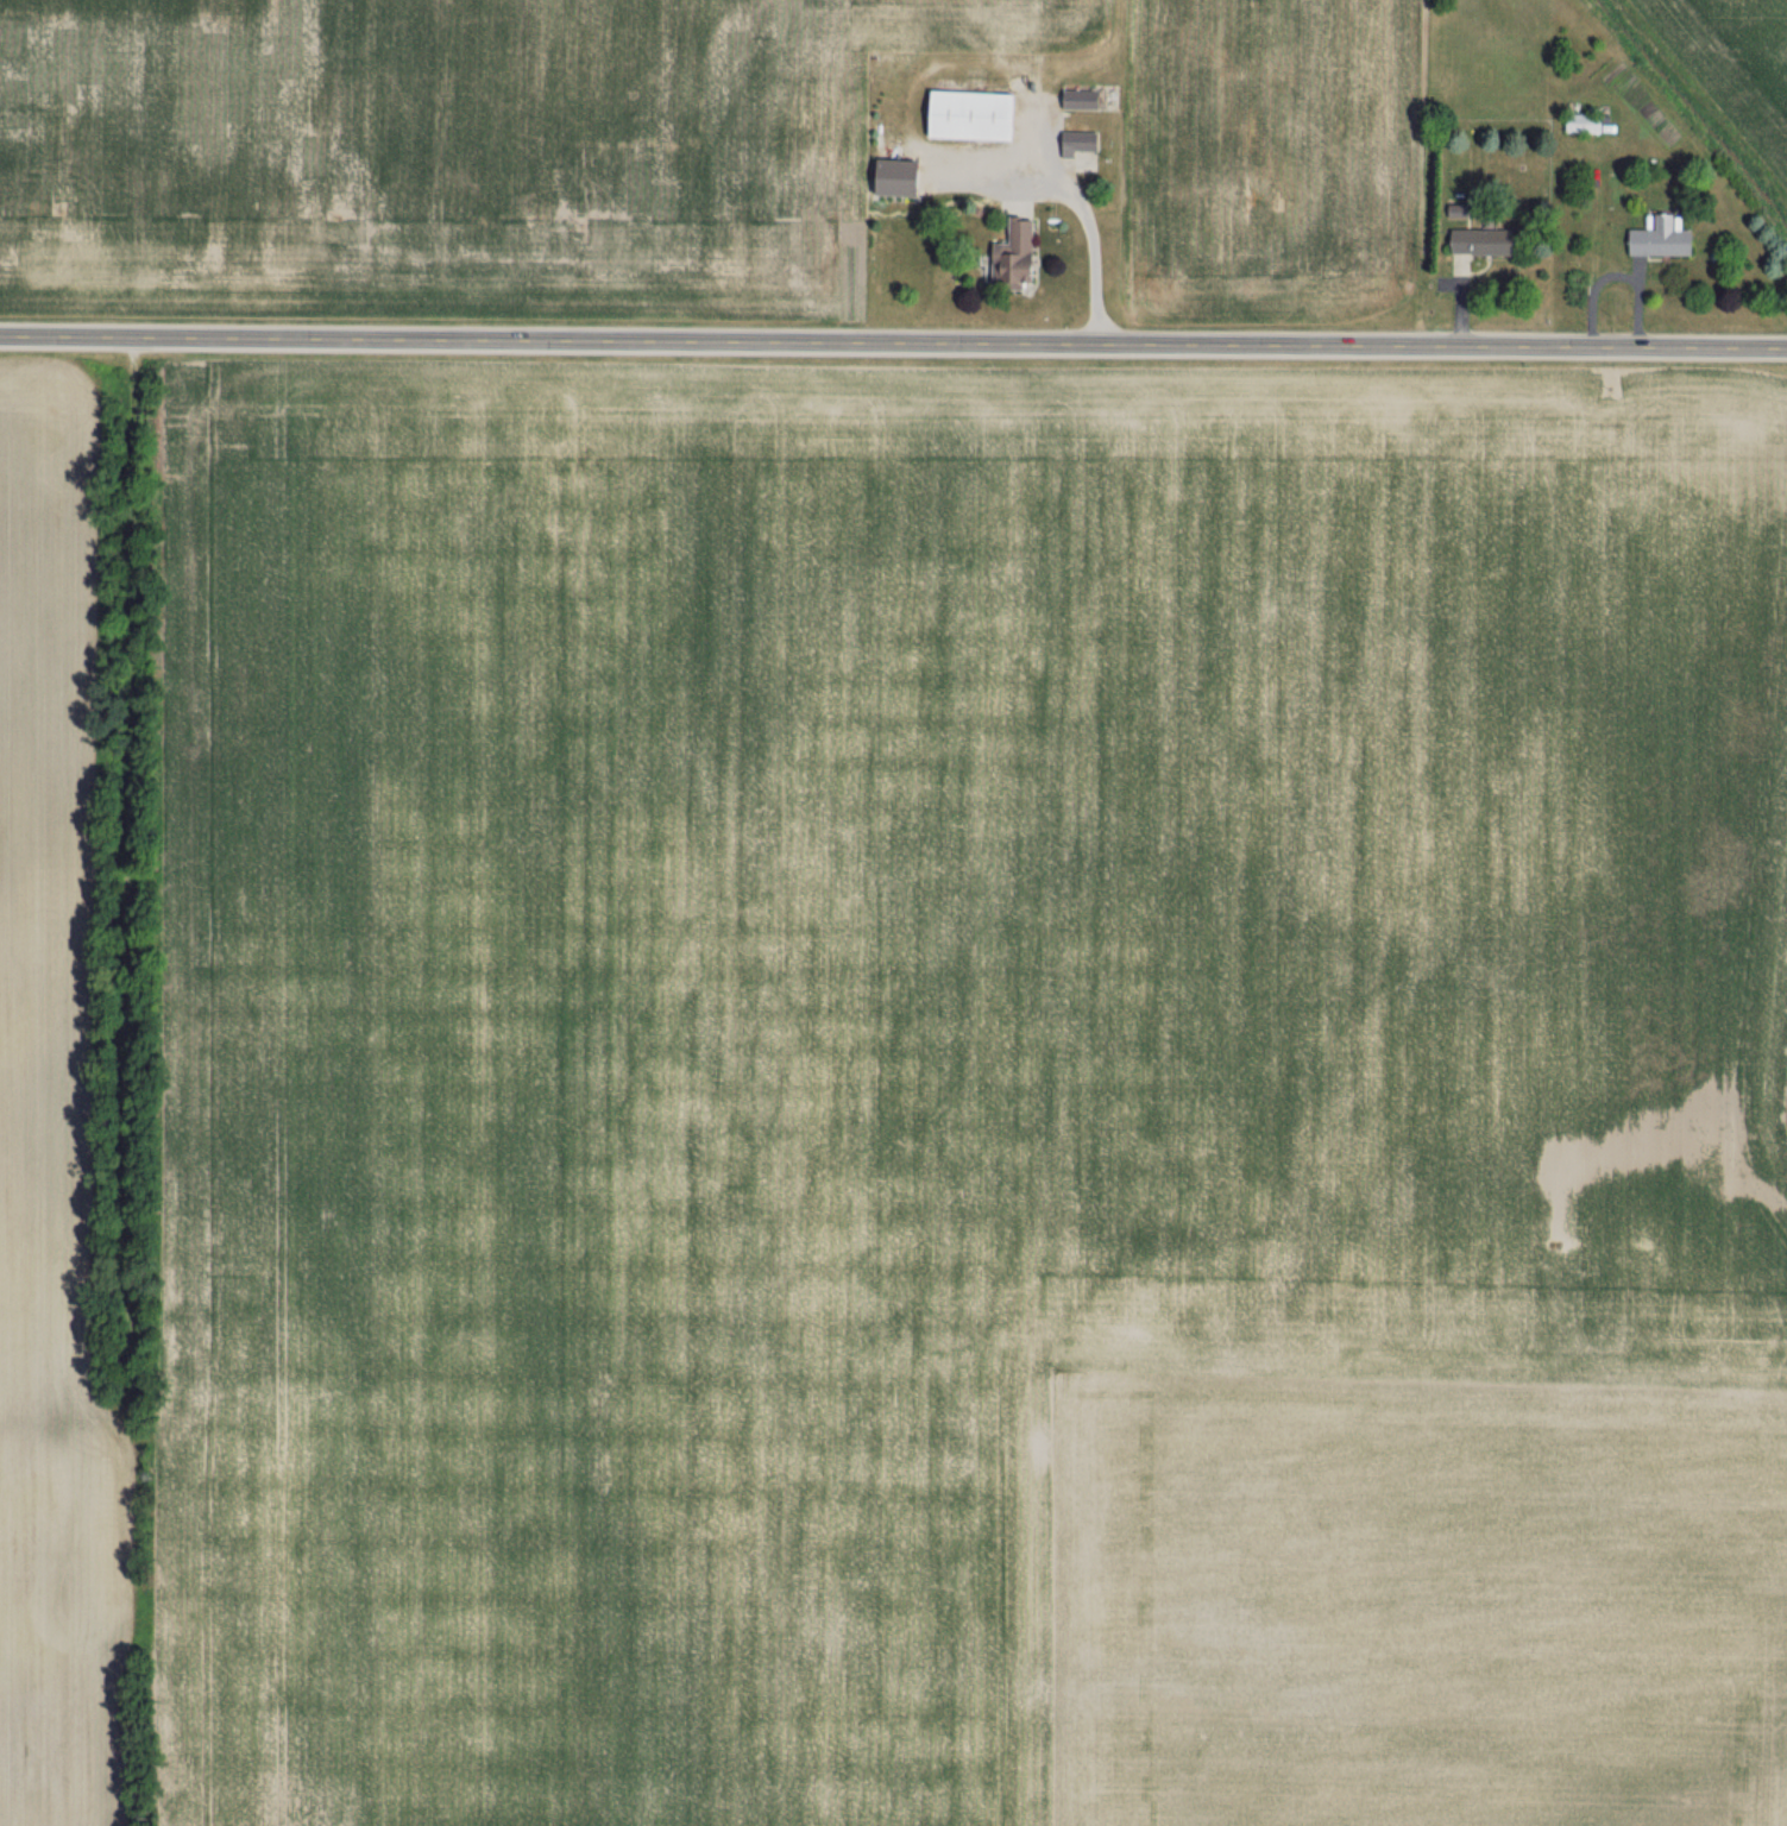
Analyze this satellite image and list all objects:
building: (1006, 4)
building: (1031, 6)
building: (1087, 99)
building: (981, 114)
building: (1590, 122)
building: (1086, 147)
building: (906, 177)
road: (1071, 203)
building: (1667, 239)
building: (1489, 241)
building: (1023, 253)
road: (893, 340)

